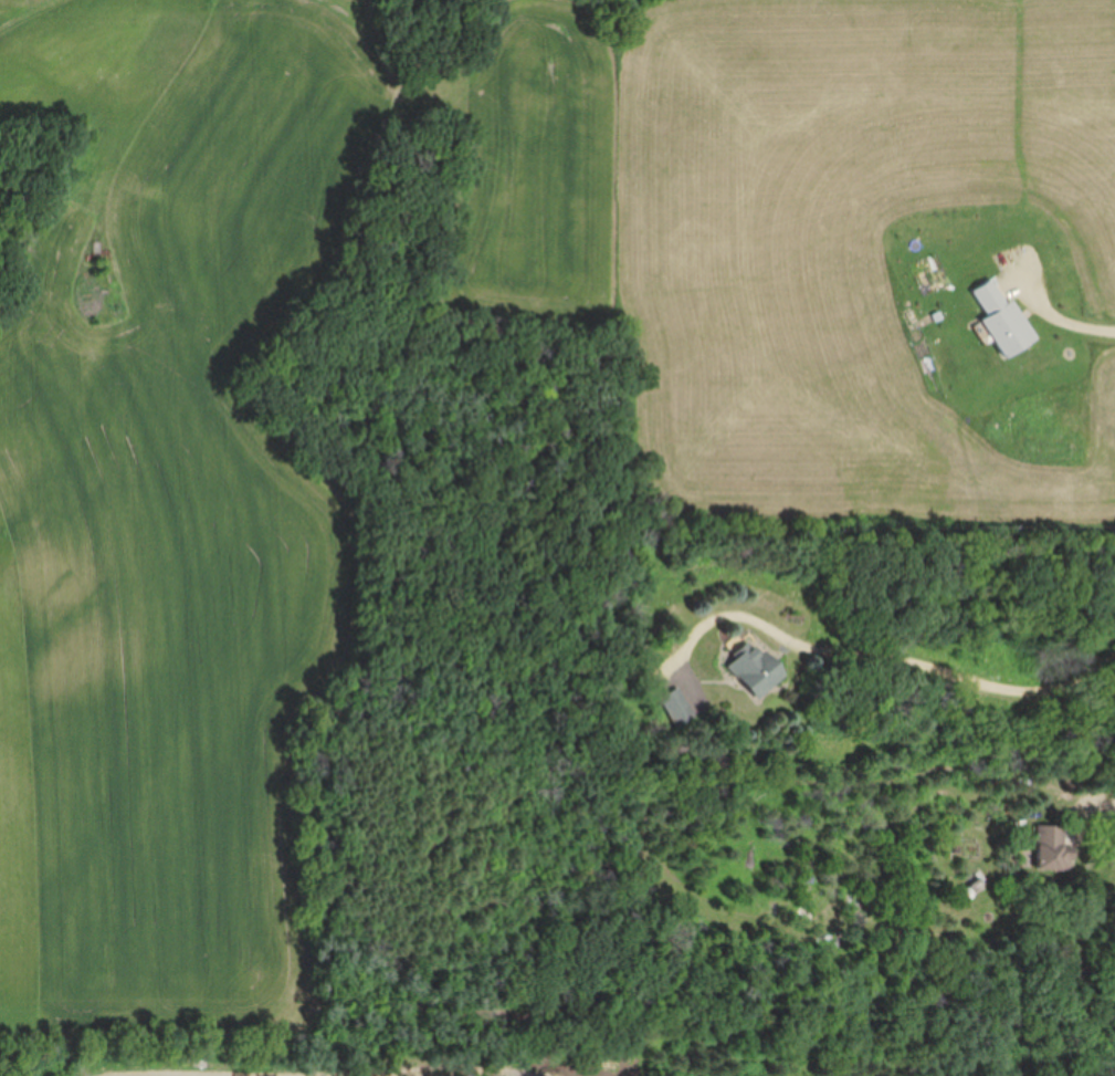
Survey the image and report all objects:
road: (1073, 317)
road: (888, 660)
building: (756, 668)
building: (677, 707)
road: (1104, 809)
building: (1053, 847)
road: (319, 1069)

